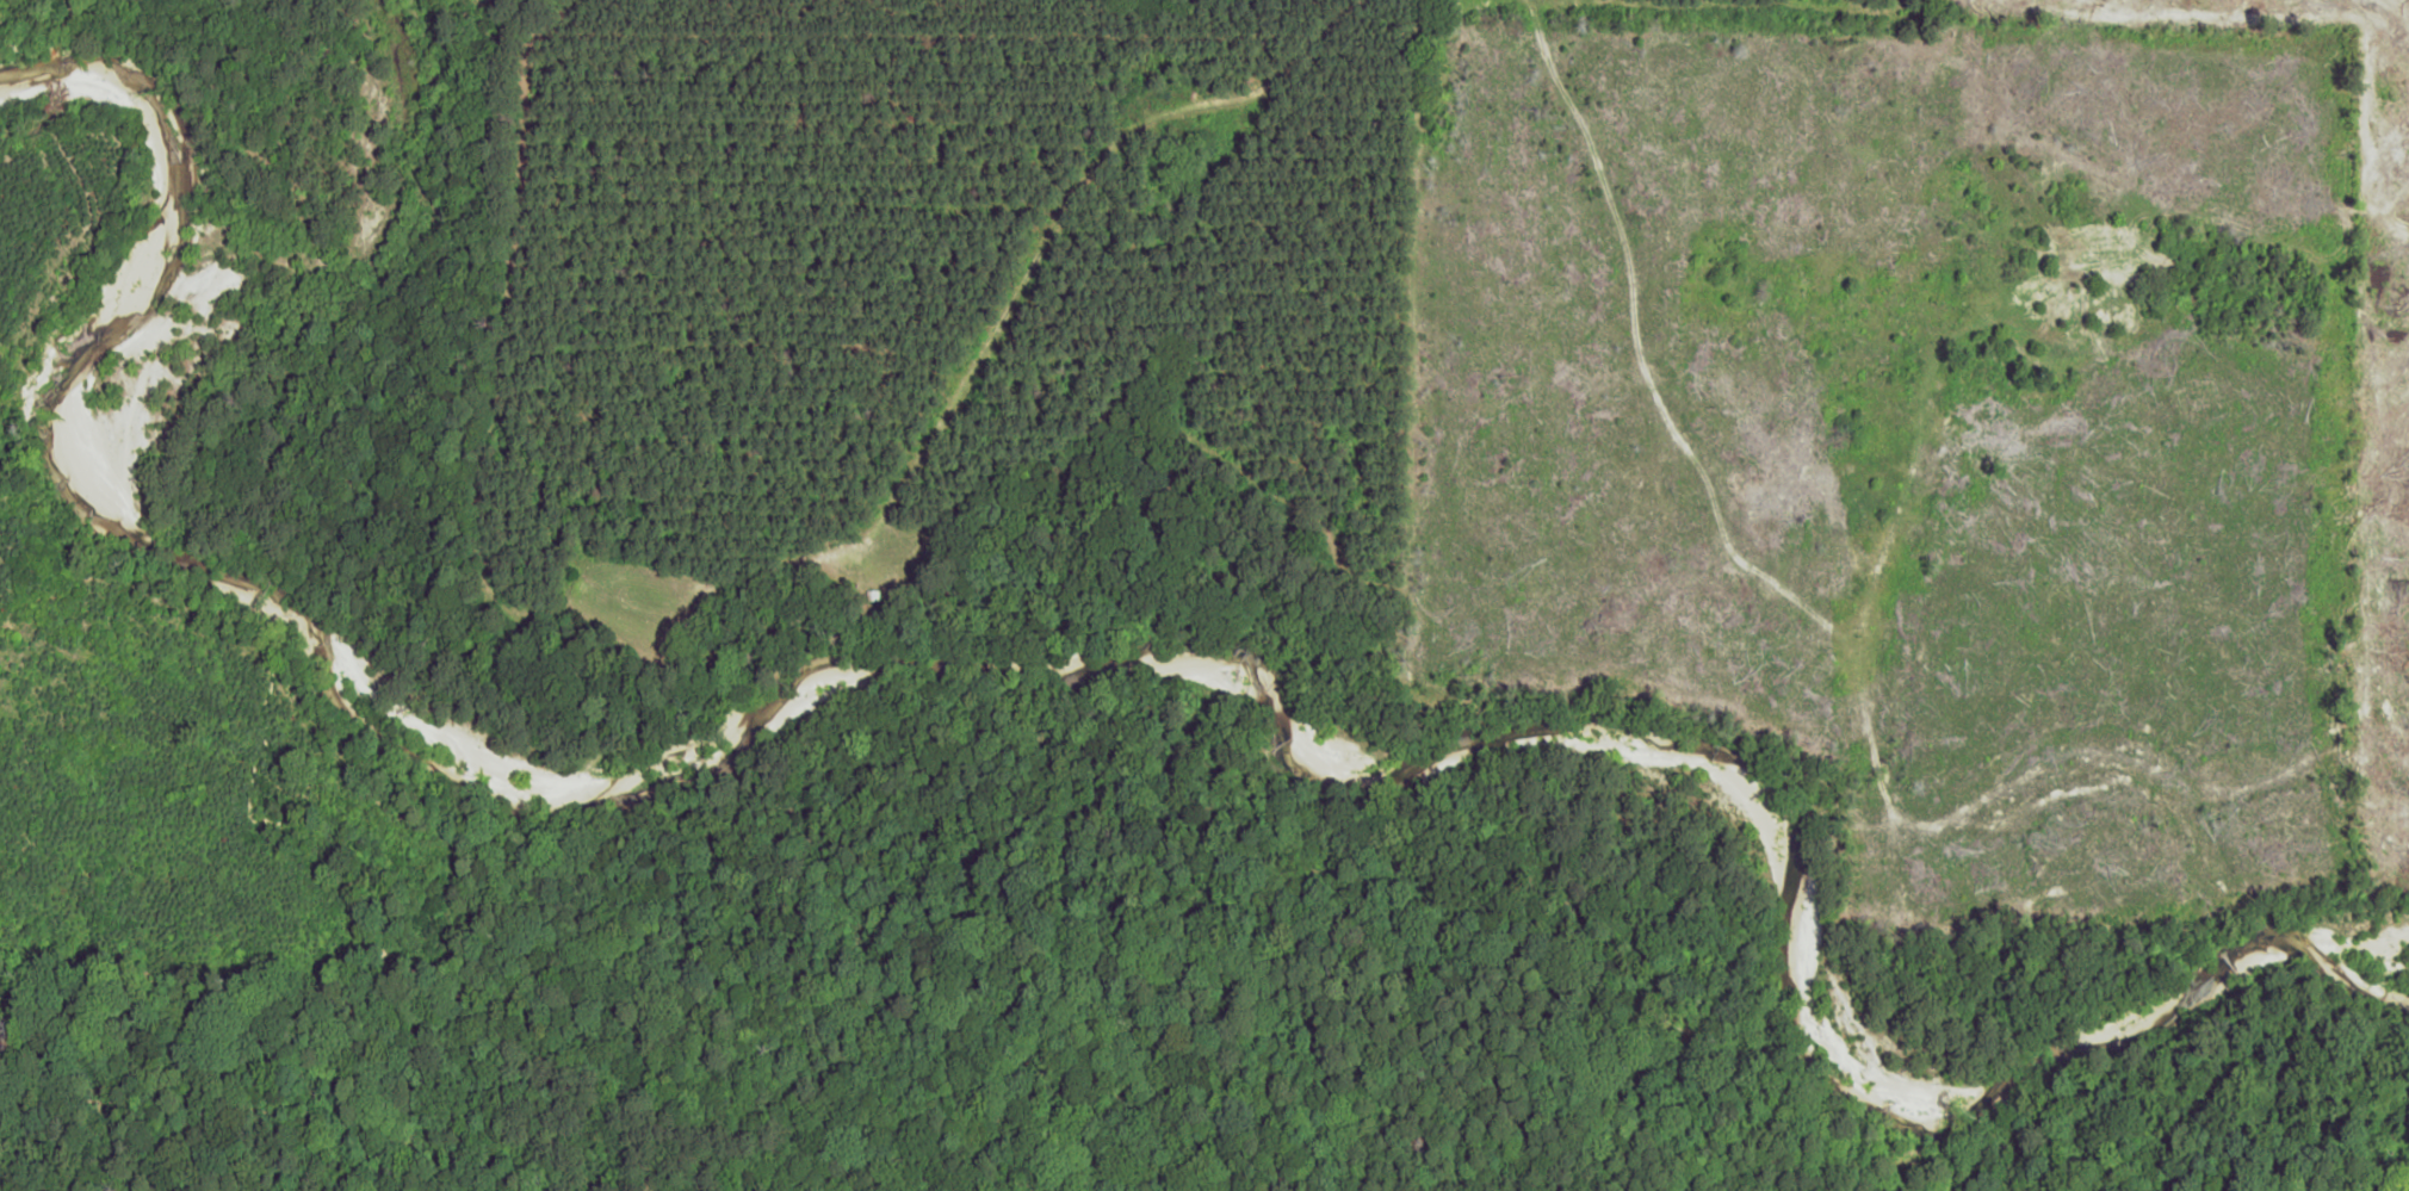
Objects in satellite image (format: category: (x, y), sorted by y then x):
road: (1301, 2)

